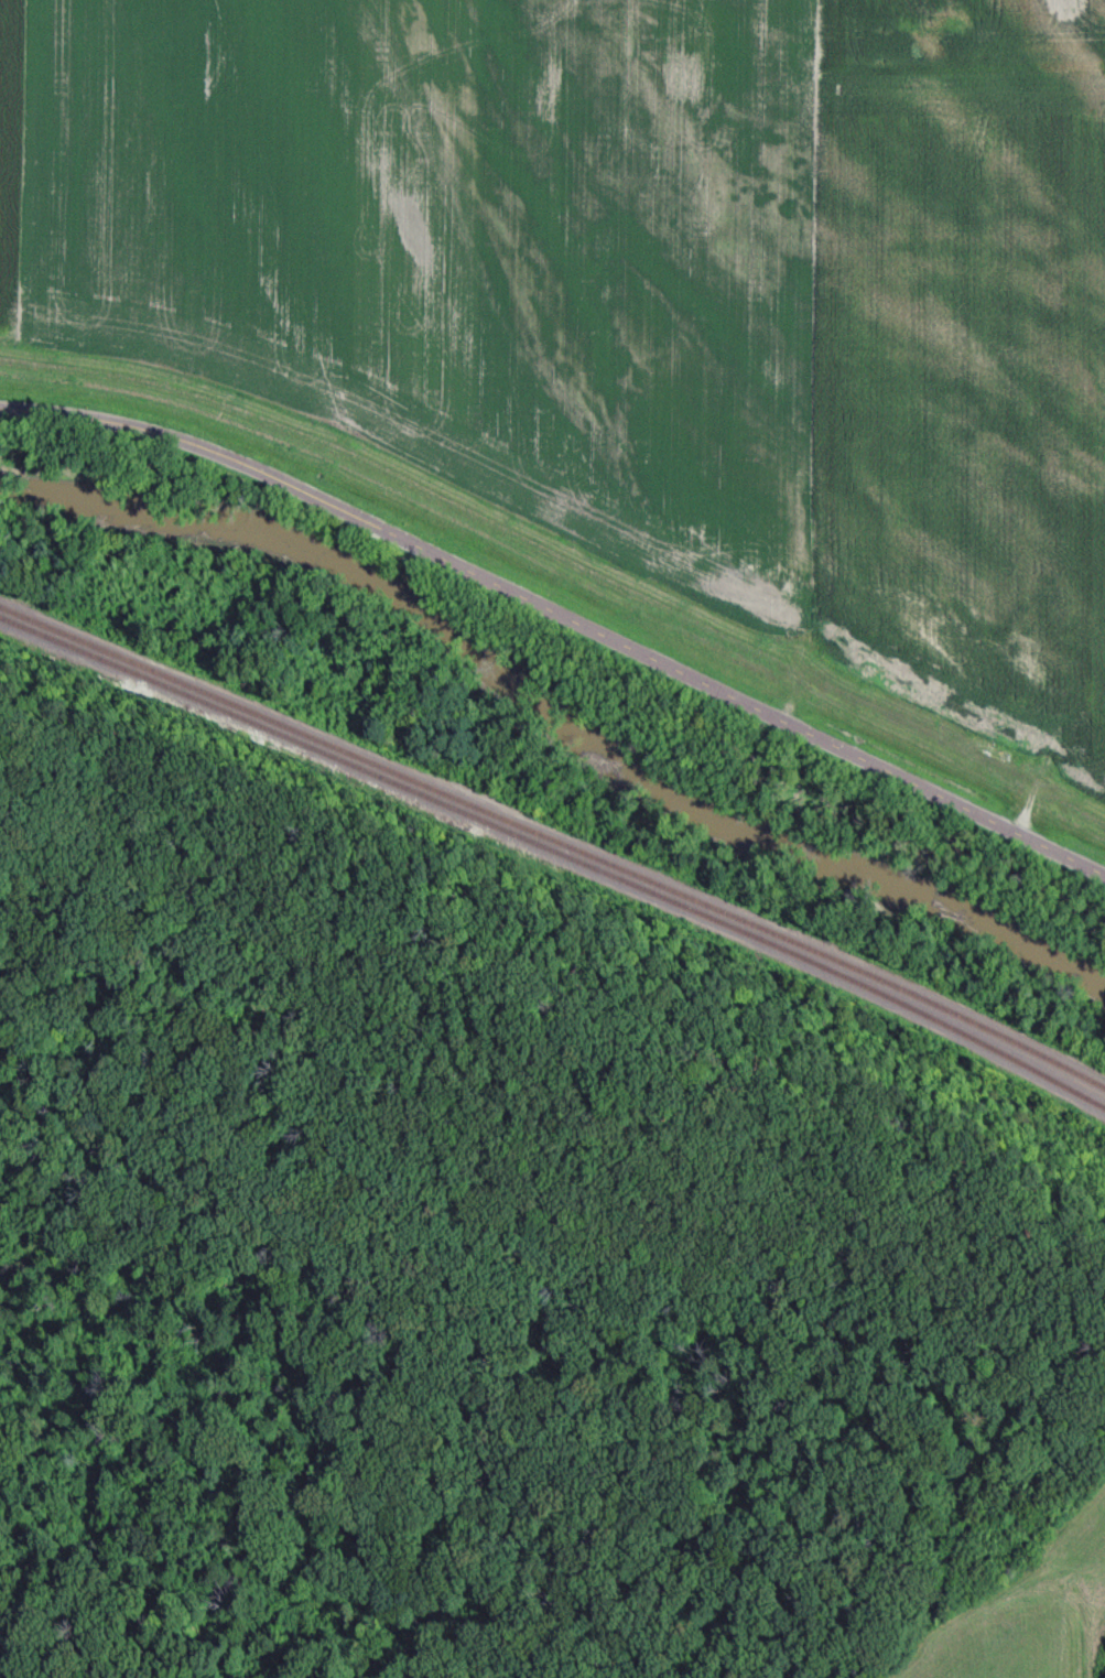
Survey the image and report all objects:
crop: (15, 166)
crop: (470, 249)
crop: (966, 368)
road: (561, 617)
river: (549, 708)
railway: (555, 843)
railway: (554, 862)

